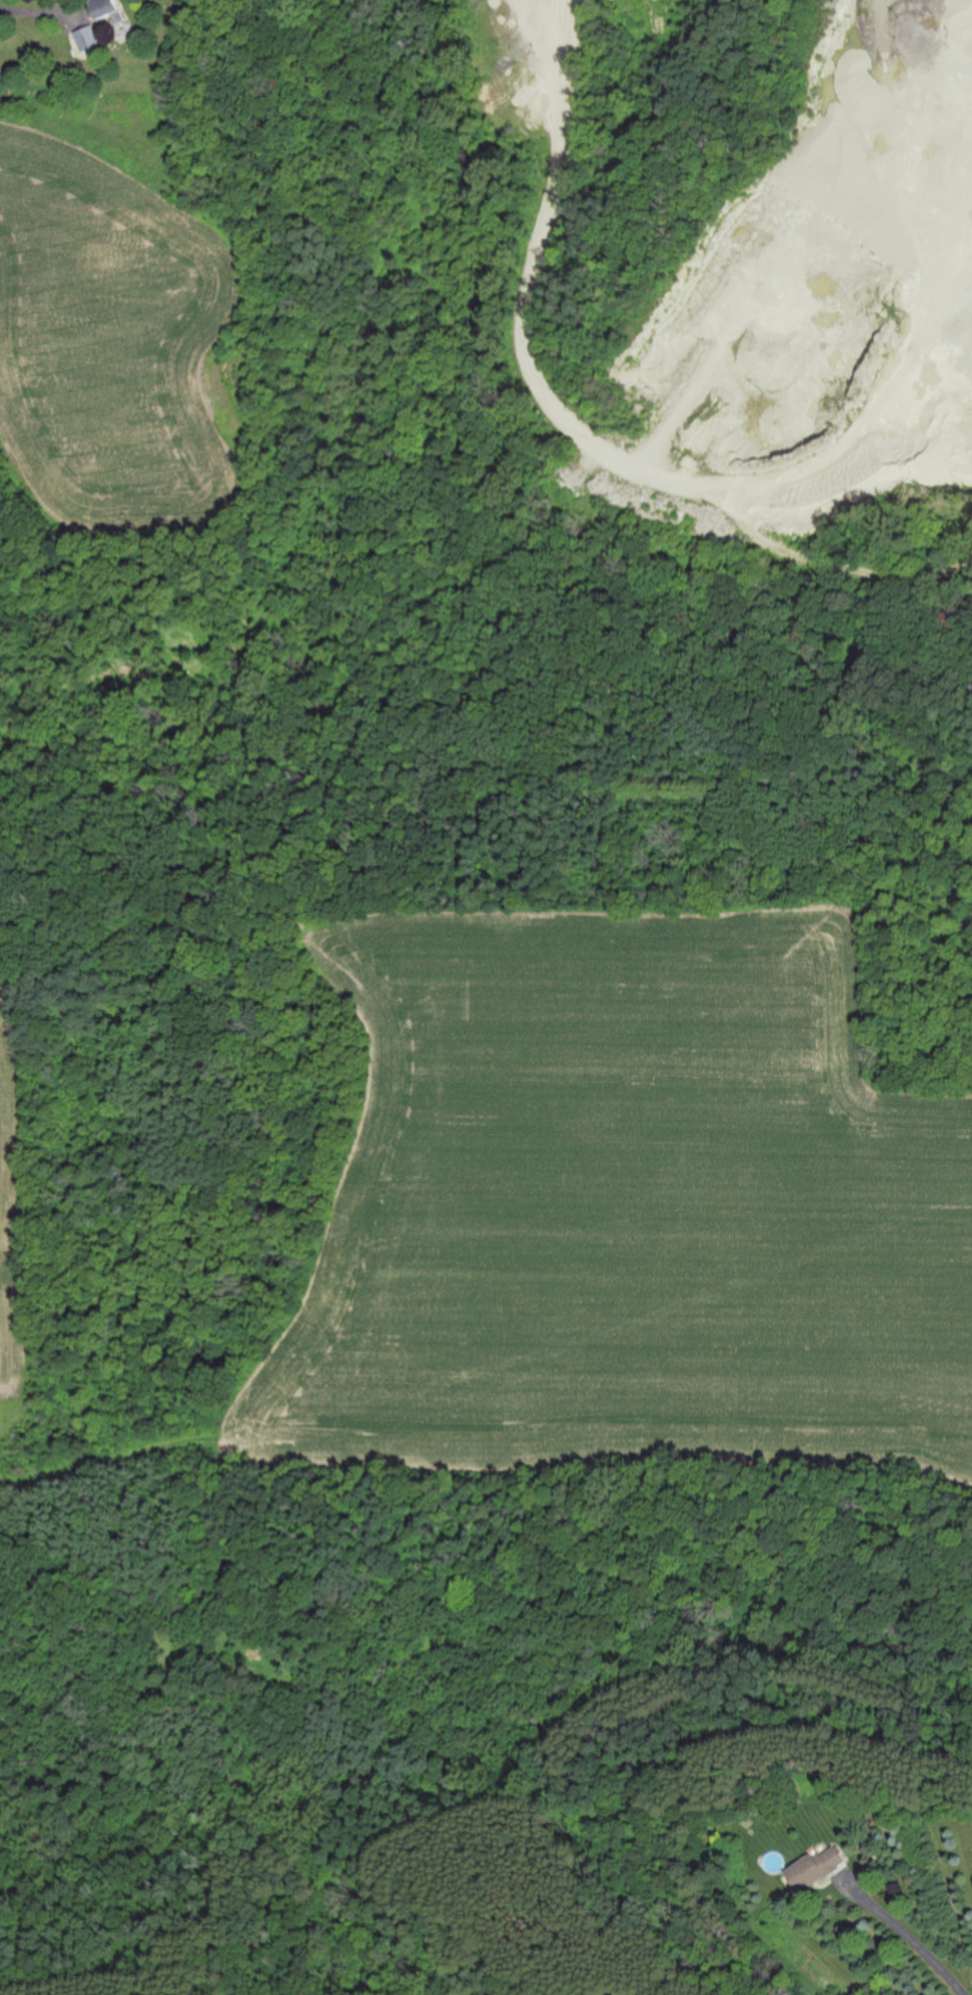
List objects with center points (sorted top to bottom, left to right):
road: (42, 3)
building: (109, 9)
building: (86, 39)
quarry: (636, 452)
crop: (627, 1196)
crop: (9, 1218)
building: (818, 1867)
road: (910, 1940)

